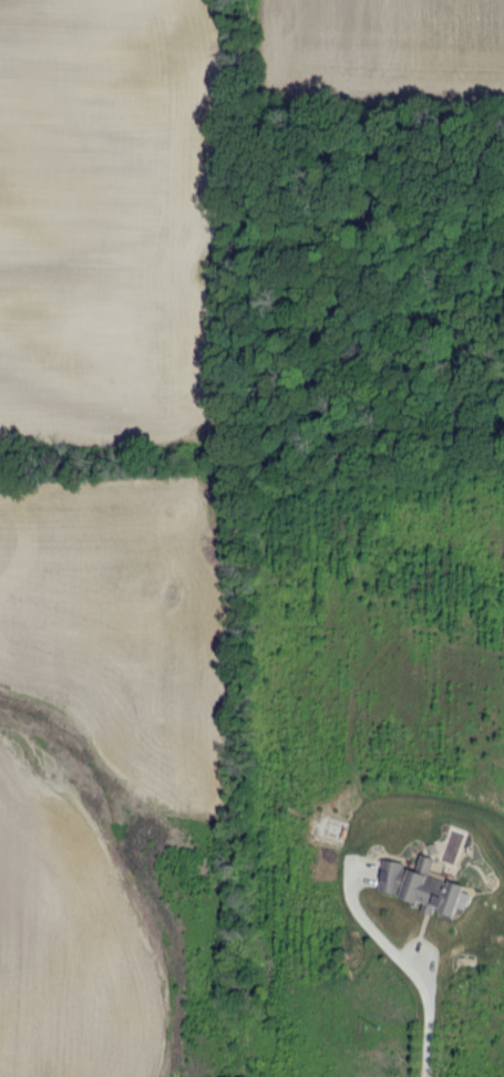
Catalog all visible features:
building: (422, 883)
road: (425, 1022)

